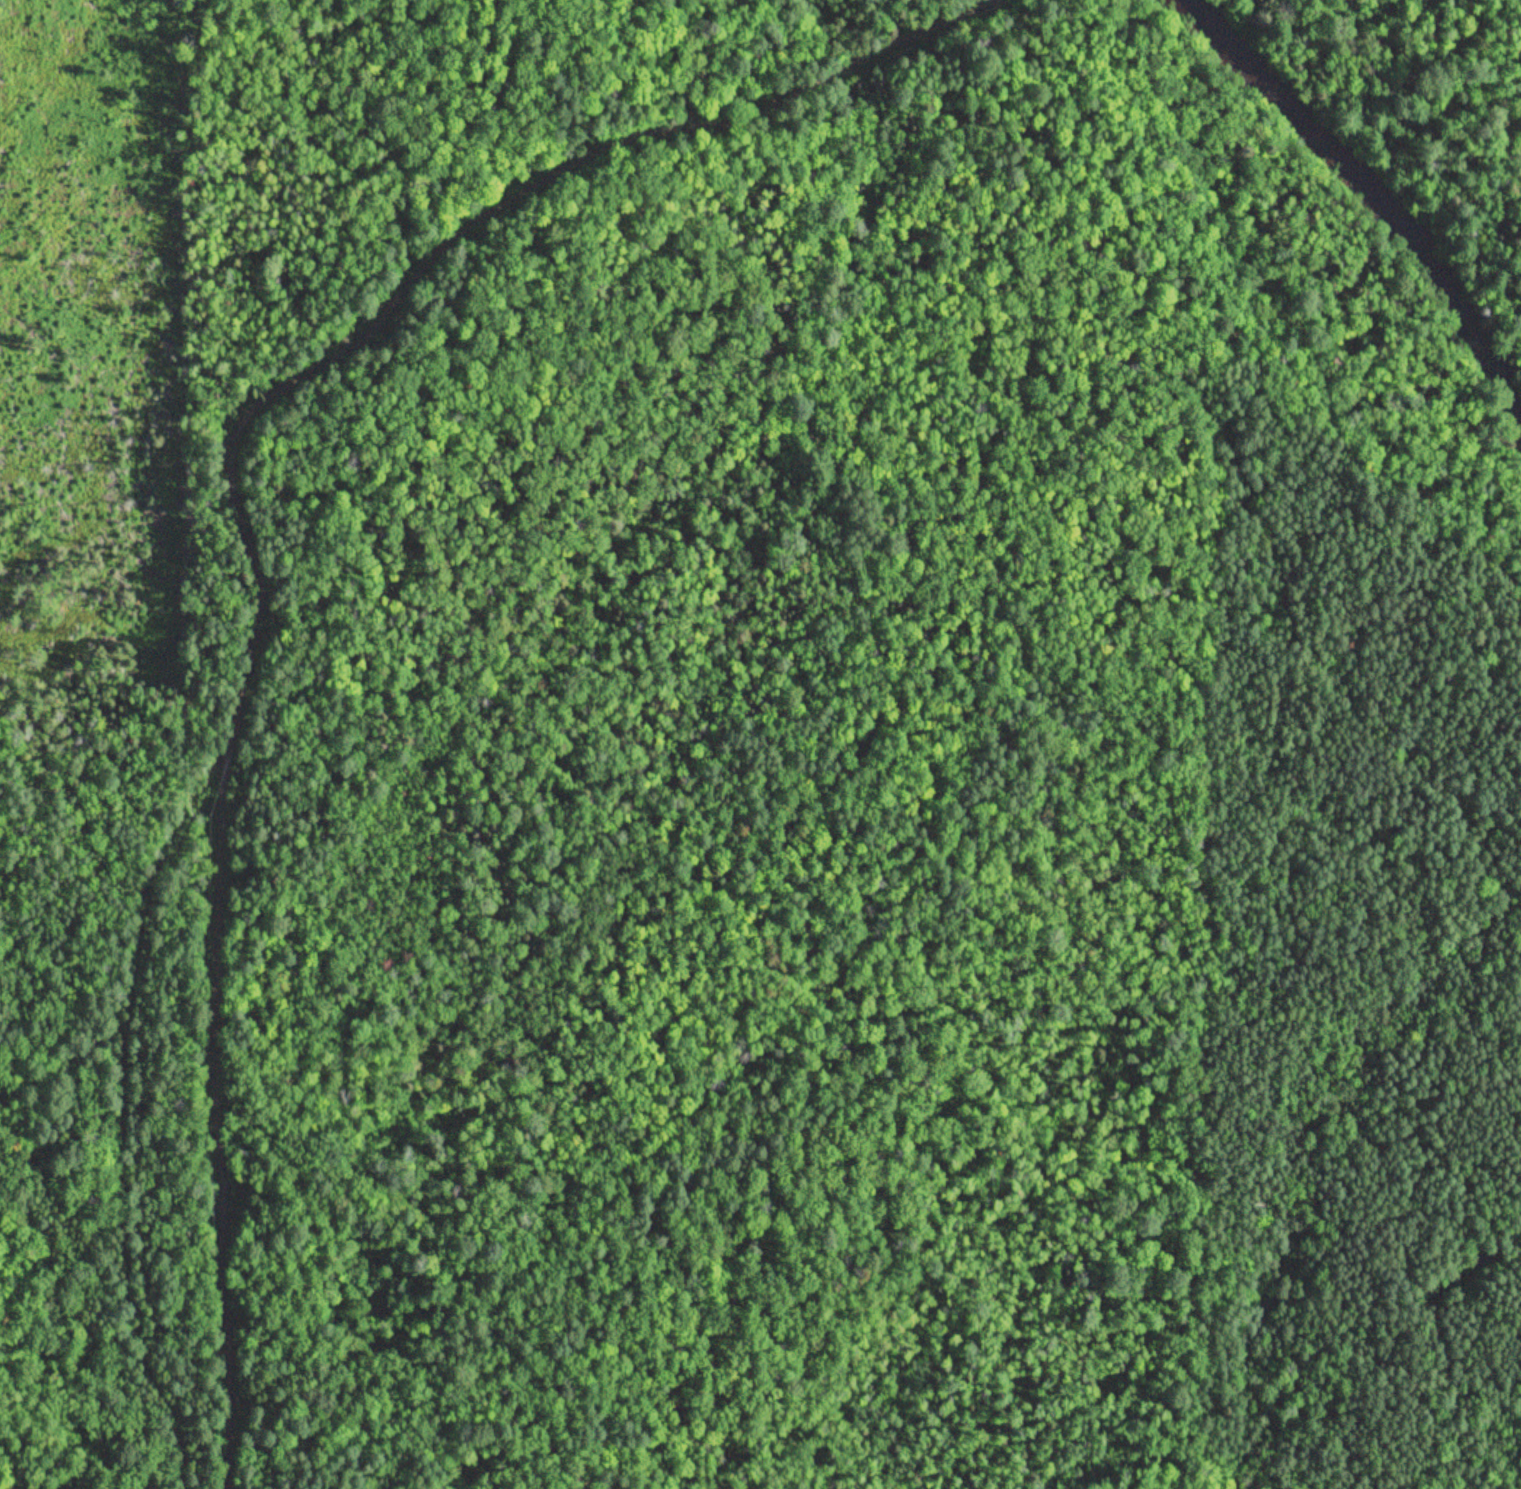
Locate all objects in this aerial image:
river: (1371, 197)
road: (243, 534)

